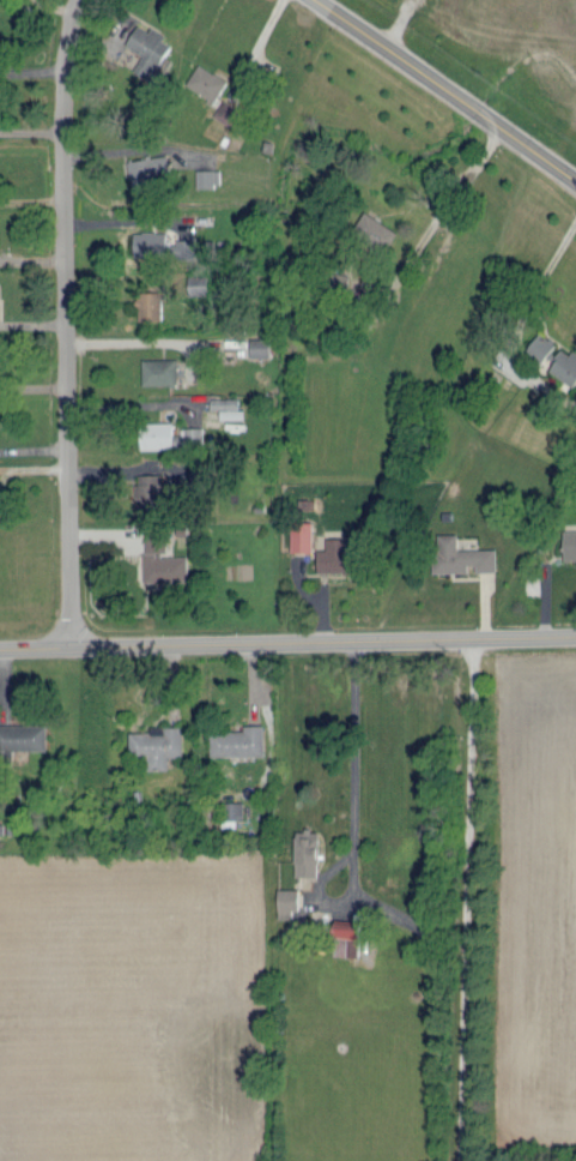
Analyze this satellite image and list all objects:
road: (336, 6)
road: (353, 11)
building: (152, 47)
road: (259, 47)
building: (212, 83)
road: (445, 91)
building: (225, 112)
building: (153, 168)
building: (212, 176)
road: (447, 207)
building: (208, 218)
road: (123, 223)
building: (194, 225)
building: (382, 239)
building: (154, 243)
building: (188, 251)
building: (548, 258)
building: (205, 284)
building: (153, 303)
road: (65, 321)
road: (522, 323)
building: (230, 342)
road: (131, 344)
building: (263, 348)
building: (544, 348)
building: (1, 361)
building: (568, 366)
building: (163, 371)
road: (131, 403)
building: (200, 410)
building: (237, 413)
building: (199, 432)
building: (160, 434)
building: (153, 493)
building: (263, 509)
building: (187, 530)
building: (307, 536)
building: (160, 537)
building: (571, 541)
building: (341, 555)
building: (466, 557)
building: (169, 566)
road: (287, 640)
building: (24, 735)
building: (243, 740)
building: (162, 744)
road: (356, 763)
building: (234, 822)
building: (4, 829)
building: (16, 829)
building: (313, 854)
road: (463, 898)
building: (292, 902)
crop: (535, 902)
building: (411, 921)
building: (350, 928)
building: (347, 944)
road: (74, 967)
road: (148, 1066)

